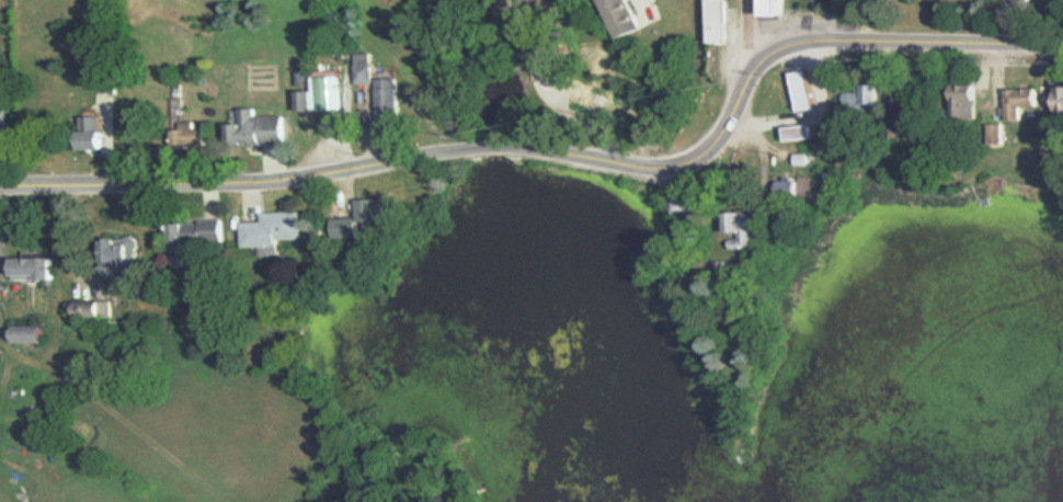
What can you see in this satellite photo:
building: (525, 0)
building: (774, 4)
building: (619, 15)
building: (717, 21)
road: (747, 39)
road: (759, 61)
building: (369, 73)
building: (112, 85)
building: (804, 88)
building: (1059, 92)
building: (912, 93)
building: (862, 96)
building: (965, 96)
building: (328, 98)
building: (1020, 99)
building: (395, 101)
building: (799, 129)
building: (4, 132)
building: (263, 133)
building: (996, 133)
building: (92, 136)
building: (194, 137)
road: (500, 144)
building: (803, 158)
road: (247, 180)
building: (797, 183)
building: (685, 199)
building: (376, 209)
building: (747, 225)
building: (340, 227)
building: (274, 232)
building: (194, 242)
building: (118, 255)
building: (34, 267)
building: (91, 307)
building: (34, 340)

